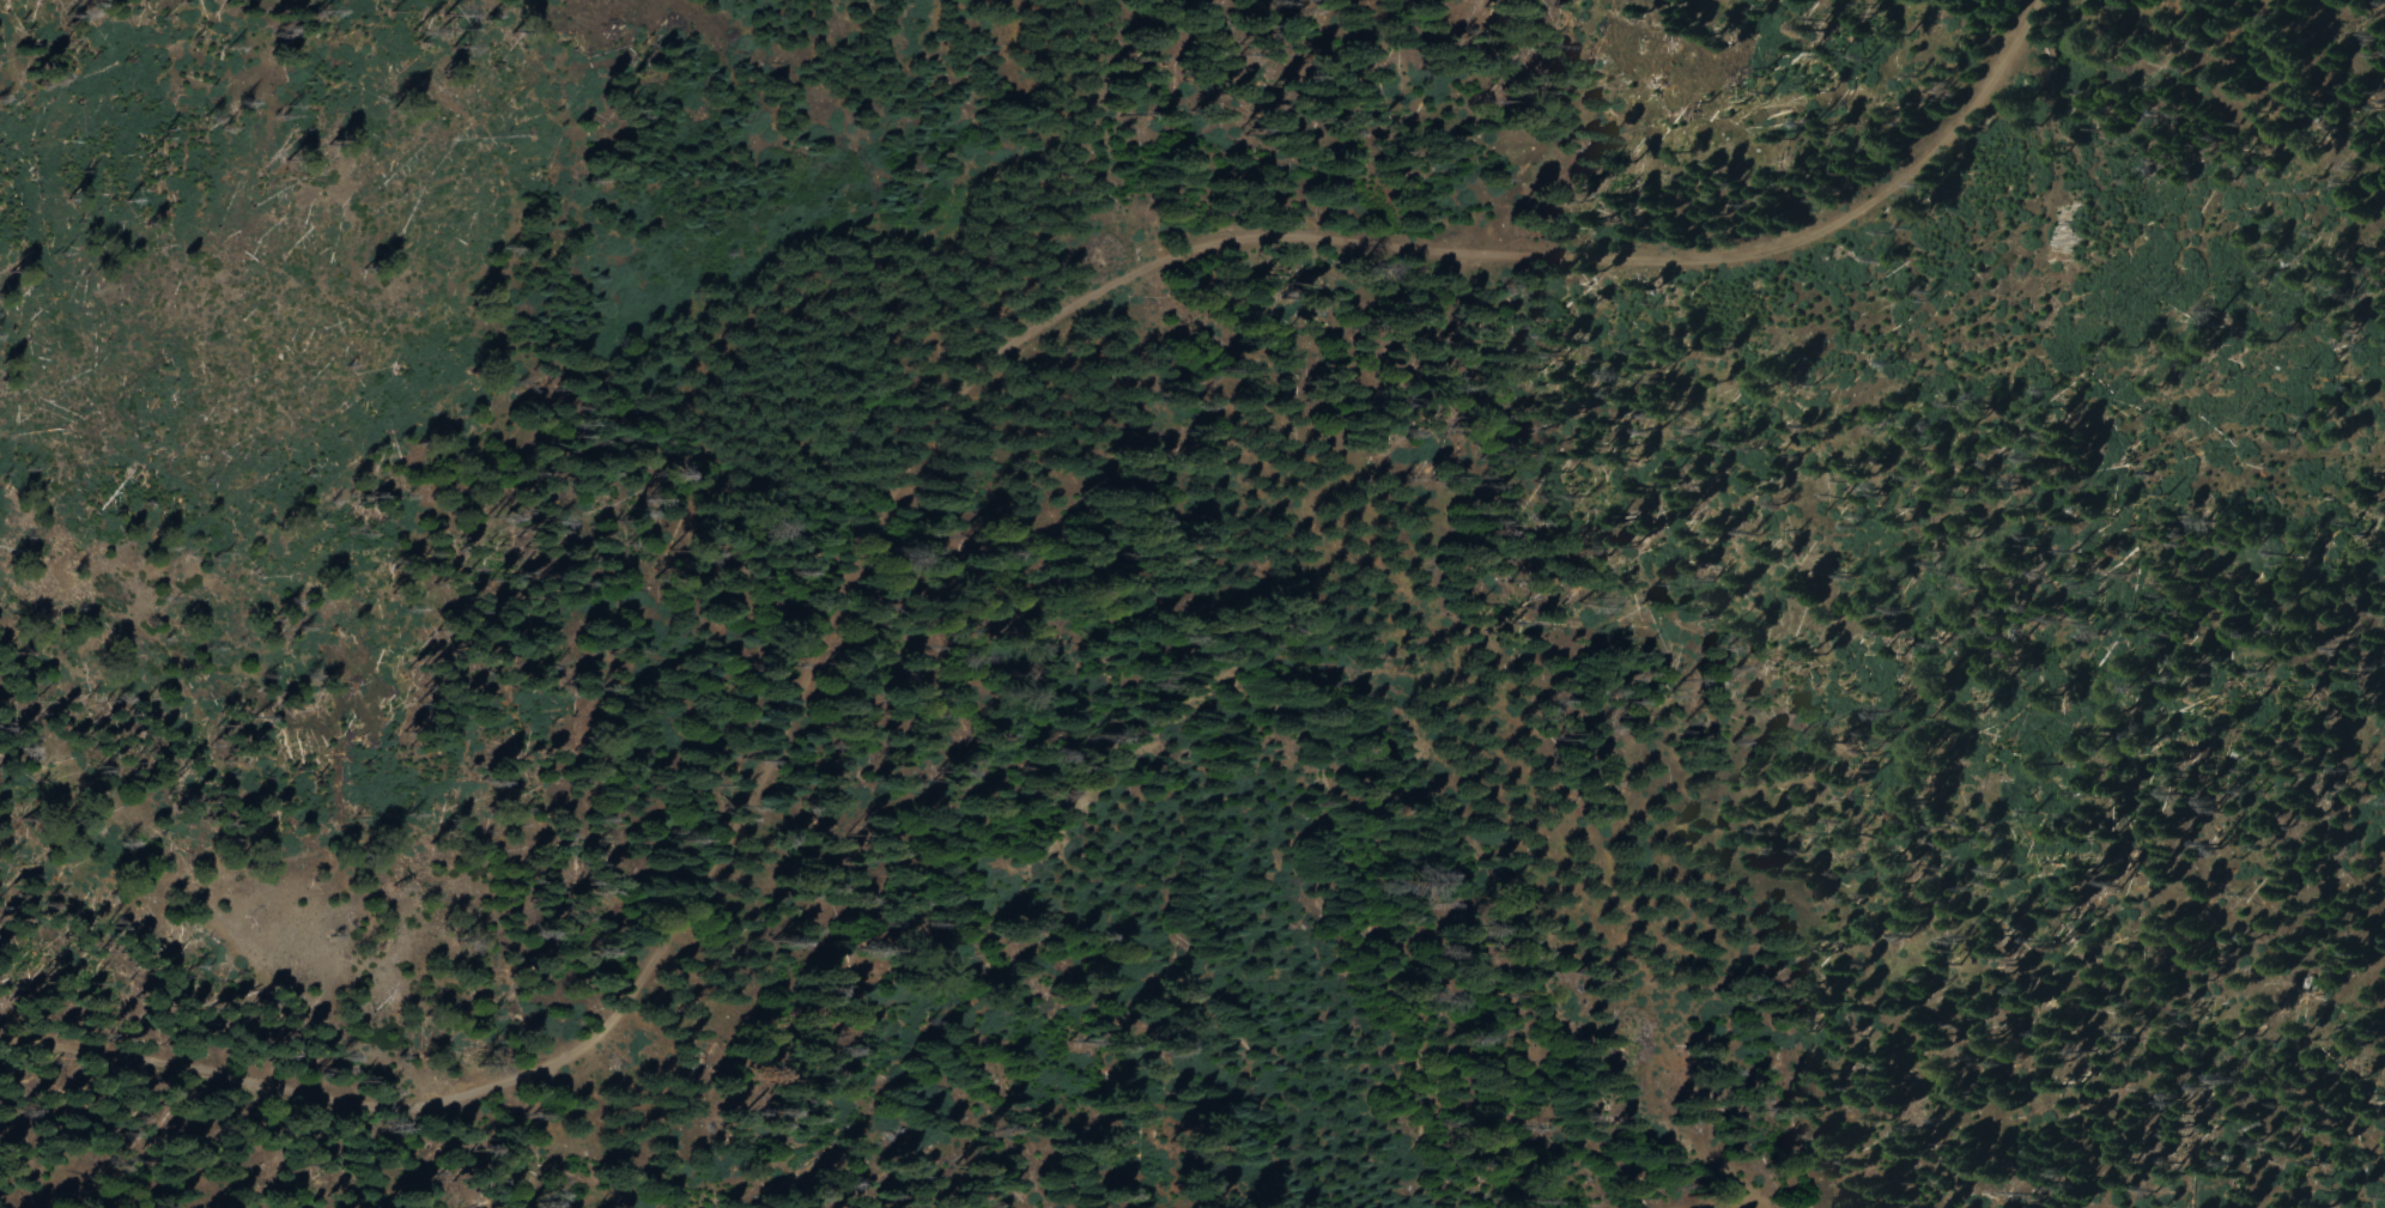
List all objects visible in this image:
road: (935, 457)

